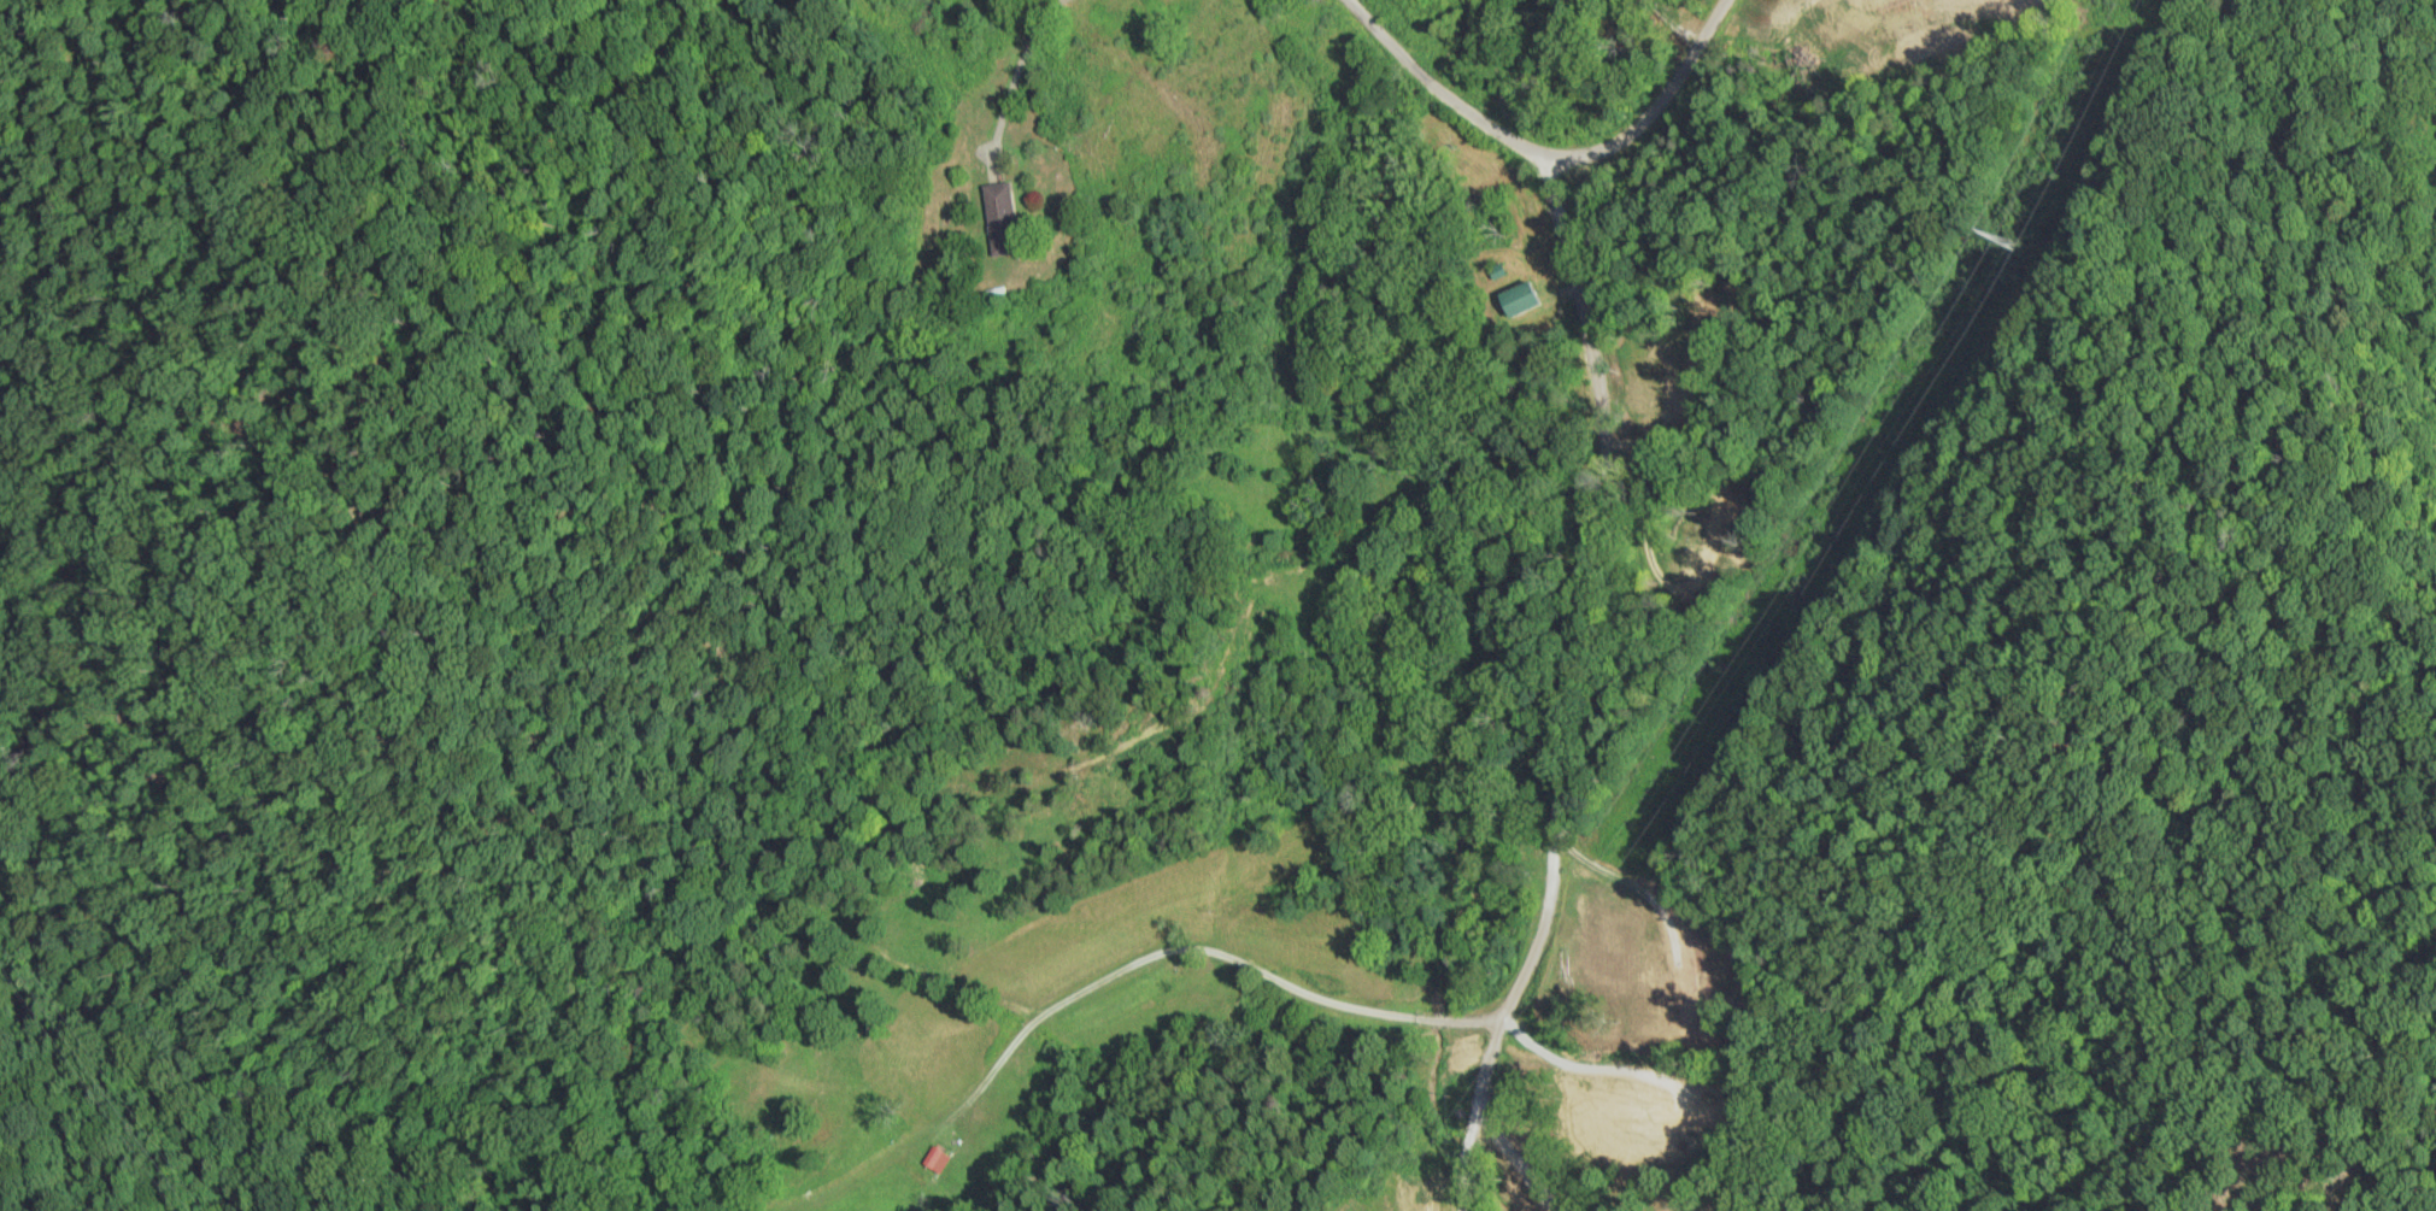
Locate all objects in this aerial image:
road: (1550, 157)
building: (1002, 217)
power tower: (1985, 241)
building: (1526, 299)
road: (1559, 688)
building: (932, 1160)

